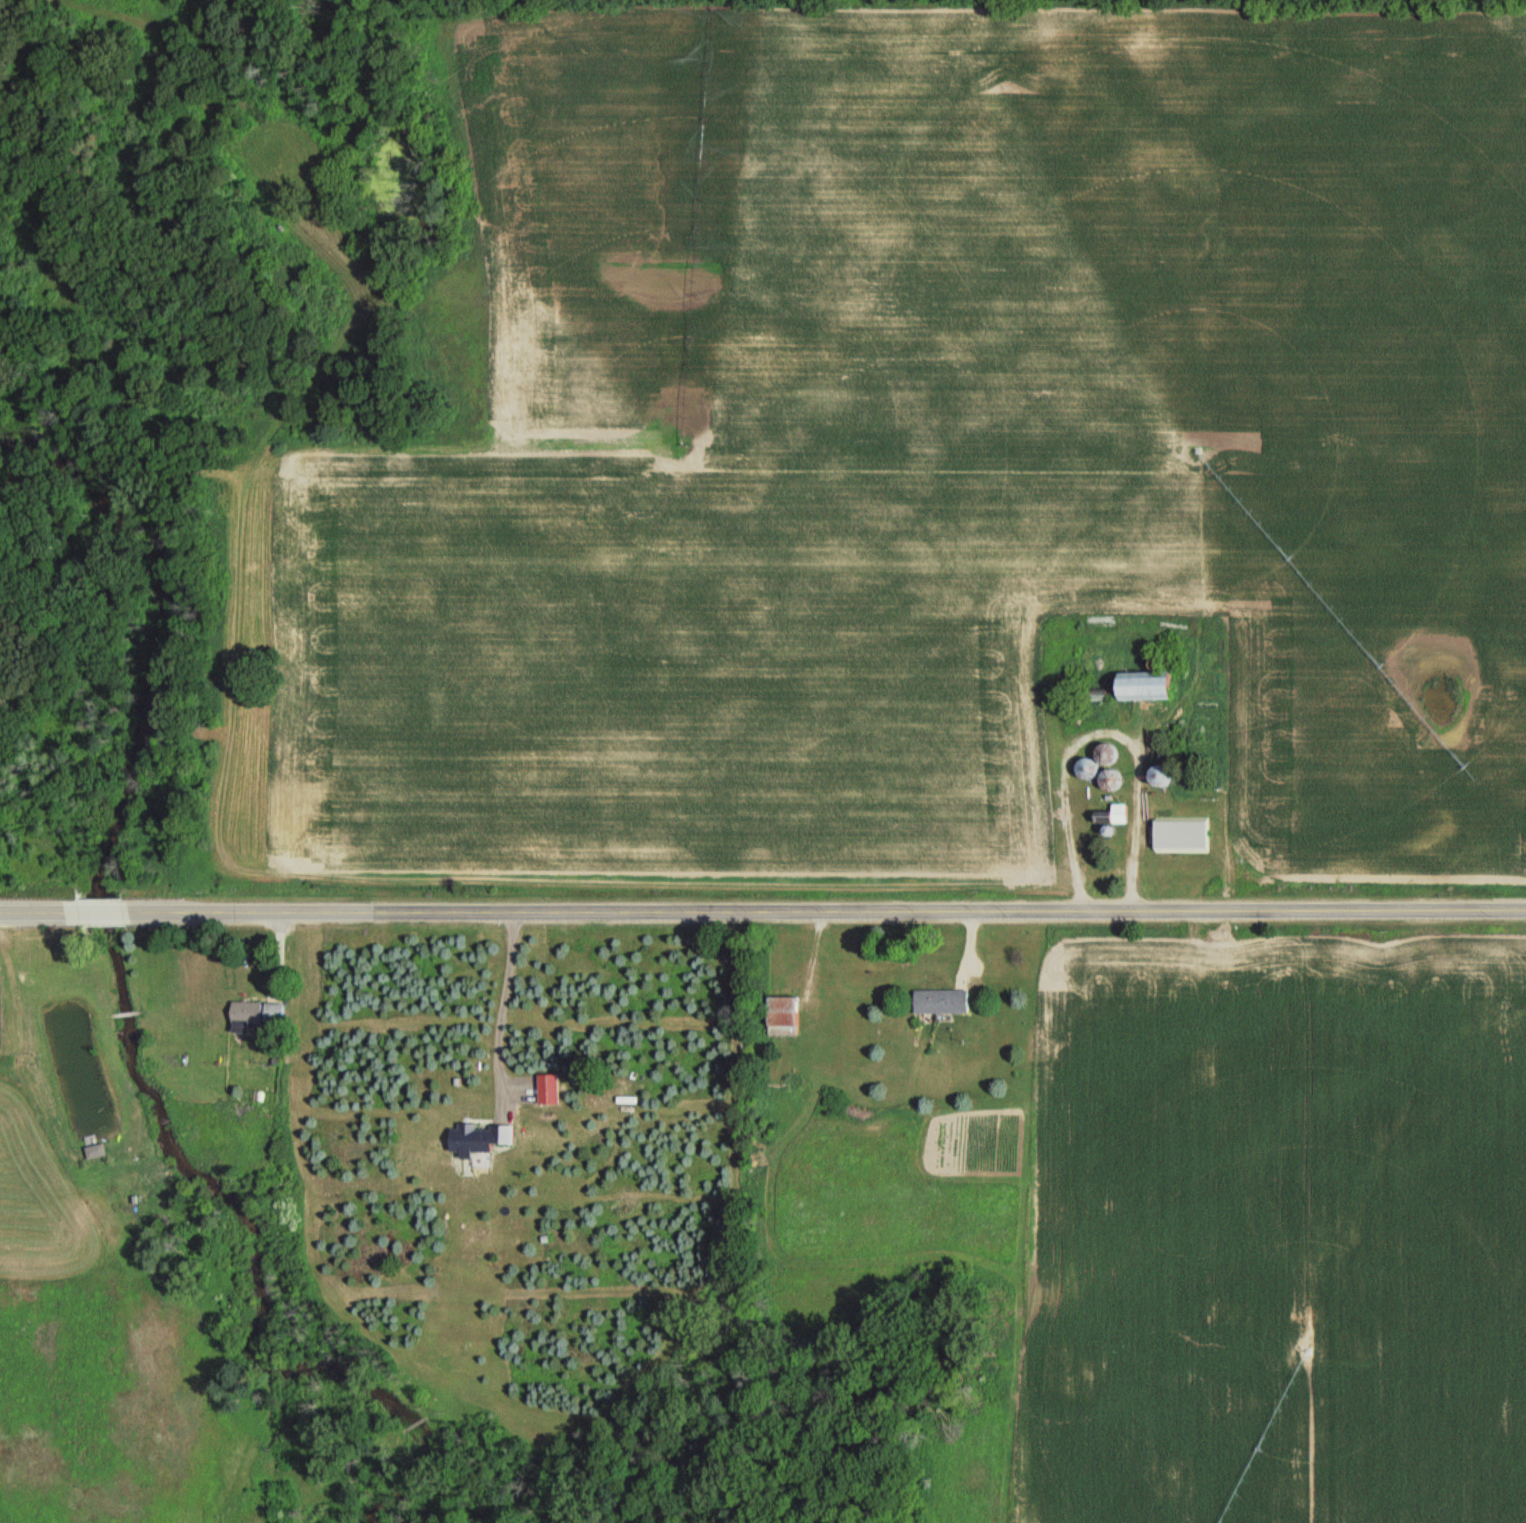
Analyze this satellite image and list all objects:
building: (1137, 688)
road: (1096, 729)
building: (1105, 755)
building: (1088, 769)
building: (1117, 814)
building: (1179, 835)
road: (762, 911)
building: (939, 1001)
road: (488, 1010)
building: (252, 1015)
building: (780, 1016)
building: (473, 1139)

